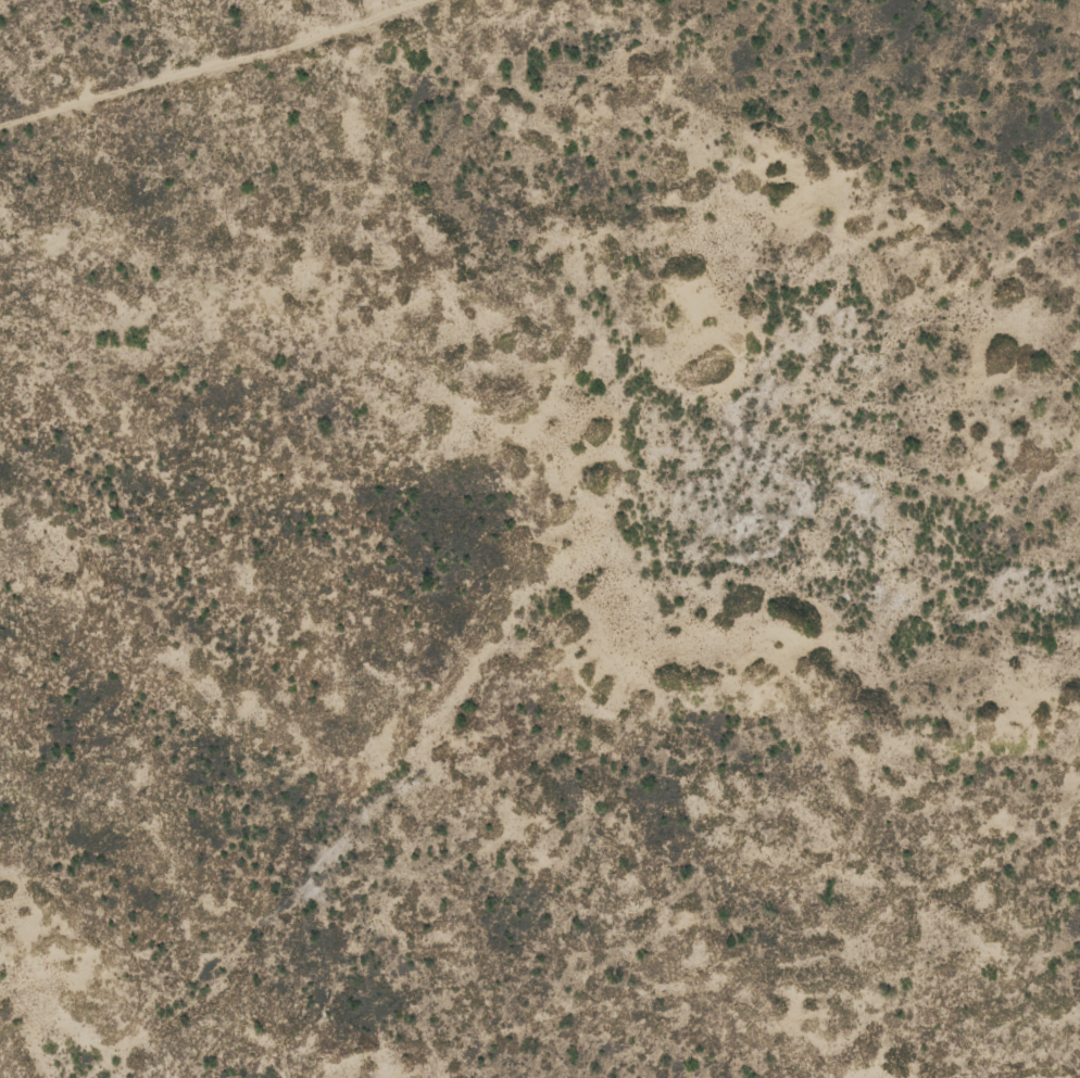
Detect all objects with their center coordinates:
power tower: (362, 11)

